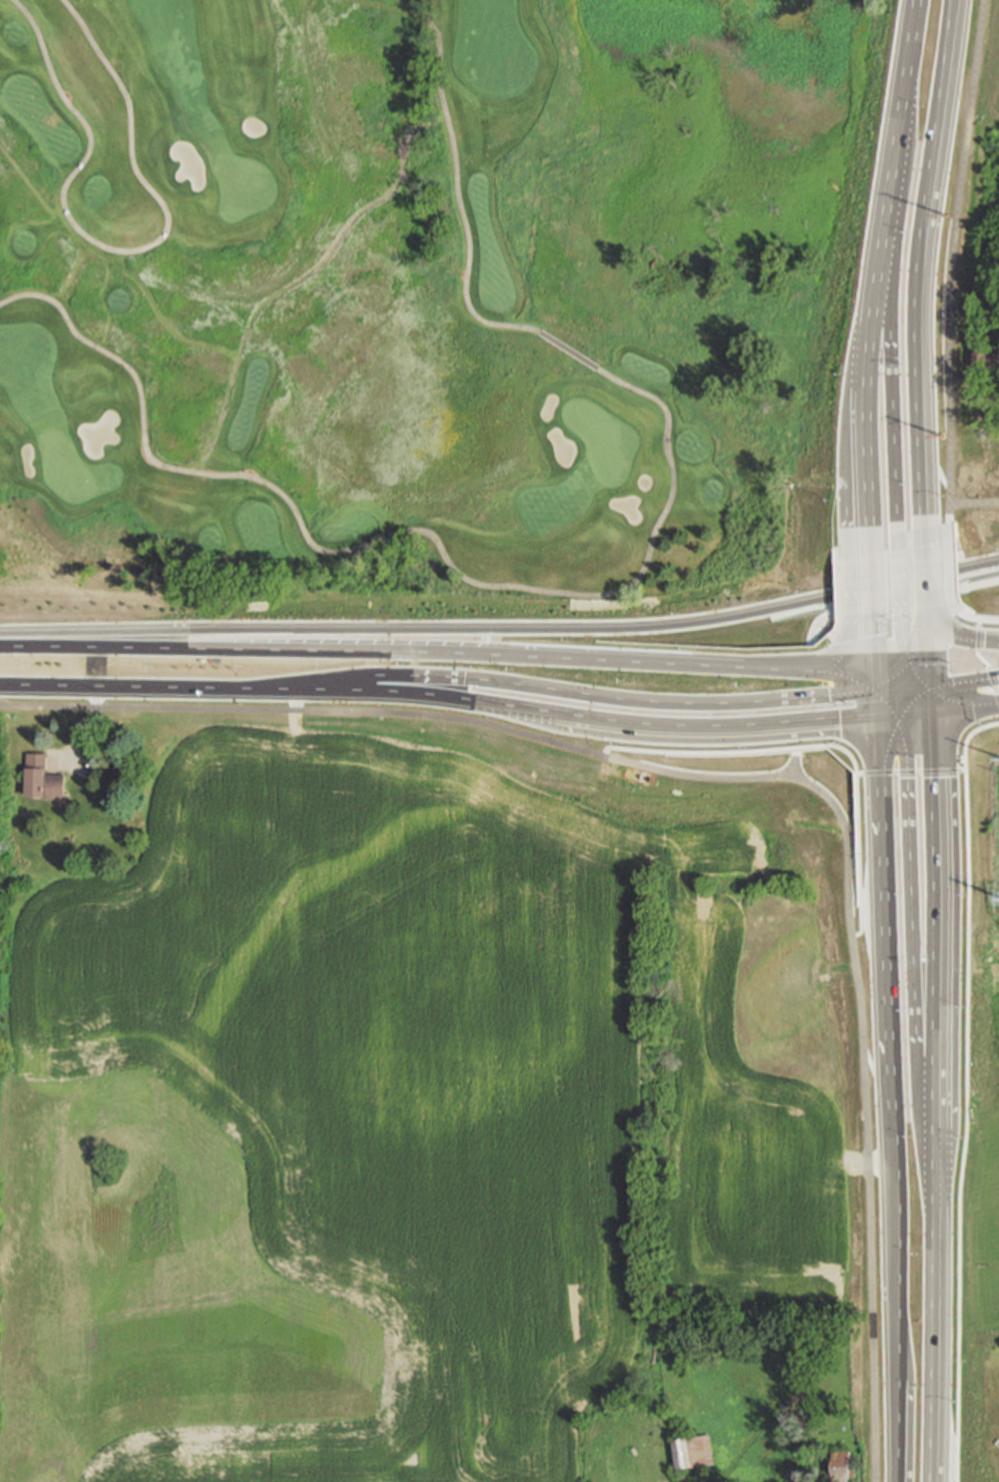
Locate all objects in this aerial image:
power tower: (952, 215)
road: (120, 250)
road: (951, 259)
road: (924, 262)
road: (886, 270)
park: (423, 301)
building: (986, 356)
road: (897, 412)
power tower: (946, 434)
road: (975, 504)
road: (950, 567)
road: (933, 572)
road: (900, 579)
road: (865, 587)
road: (594, 594)
road: (895, 602)
road: (977, 620)
road: (934, 624)
road: (502, 628)
traffic signals: (934, 630)
road: (966, 639)
road: (905, 640)
road: (921, 643)
road: (374, 651)
traffic signals: (908, 656)
road: (869, 658)
road: (935, 659)
road: (984, 661)
road: (811, 669)
road: (889, 669)
road: (920, 672)
traffic signals: (871, 683)
road: (967, 683)
road: (154, 687)
traffic signals: (936, 688)
road: (882, 693)
road: (590, 694)
road: (917, 699)
road: (952, 699)
road: (936, 700)
road: (873, 701)
road: (984, 707)
road: (898, 710)
road: (953, 711)
road: (400, 713)
traffic signals: (937, 713)
road: (920, 715)
traffic signals: (903, 717)
road: (889, 718)
traffic signals: (876, 720)
road: (591, 723)
road: (88, 725)
road: (889, 739)
road: (821, 749)
road: (913, 773)
building: (42, 776)
road: (911, 876)
road: (968, 1094)
road: (932, 1097)
road: (887, 1100)
road: (865, 1104)
crop: (397, 1114)
building: (693, 1451)
building: (842, 1465)

